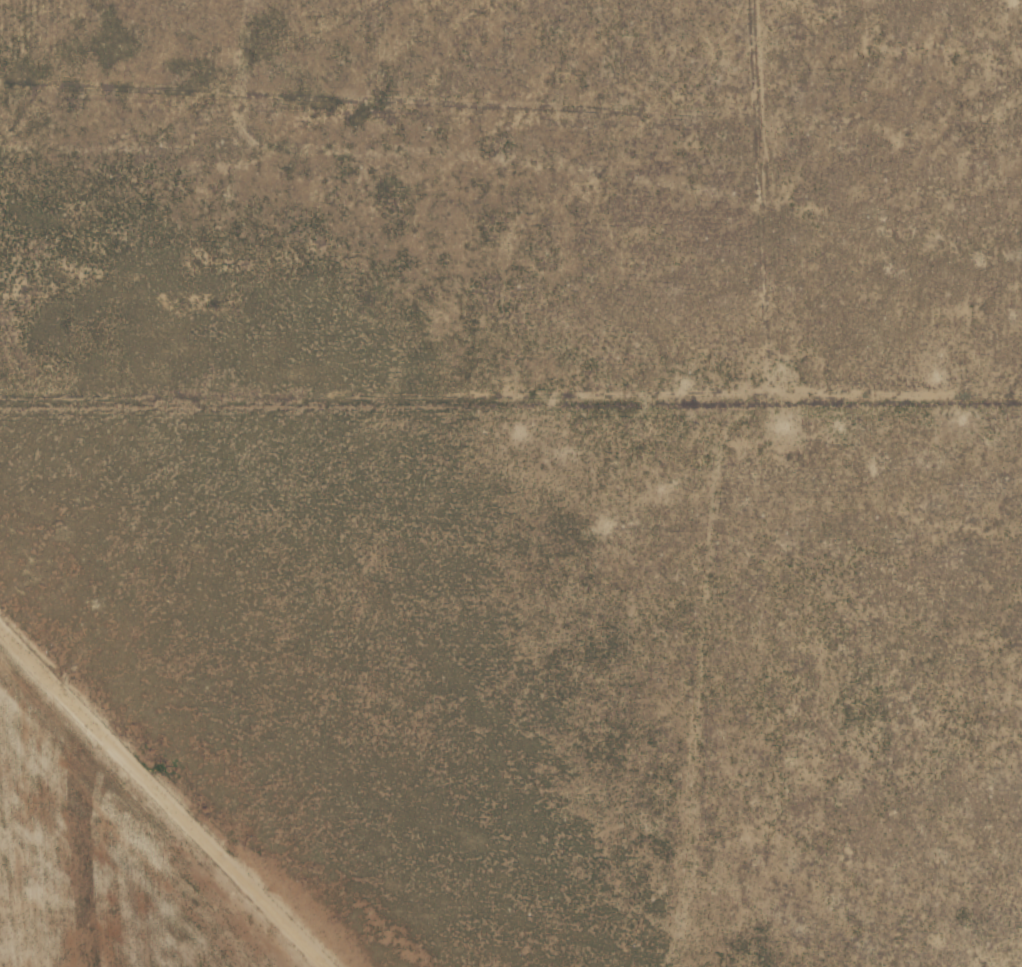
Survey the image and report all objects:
landfill: (60, 844)

